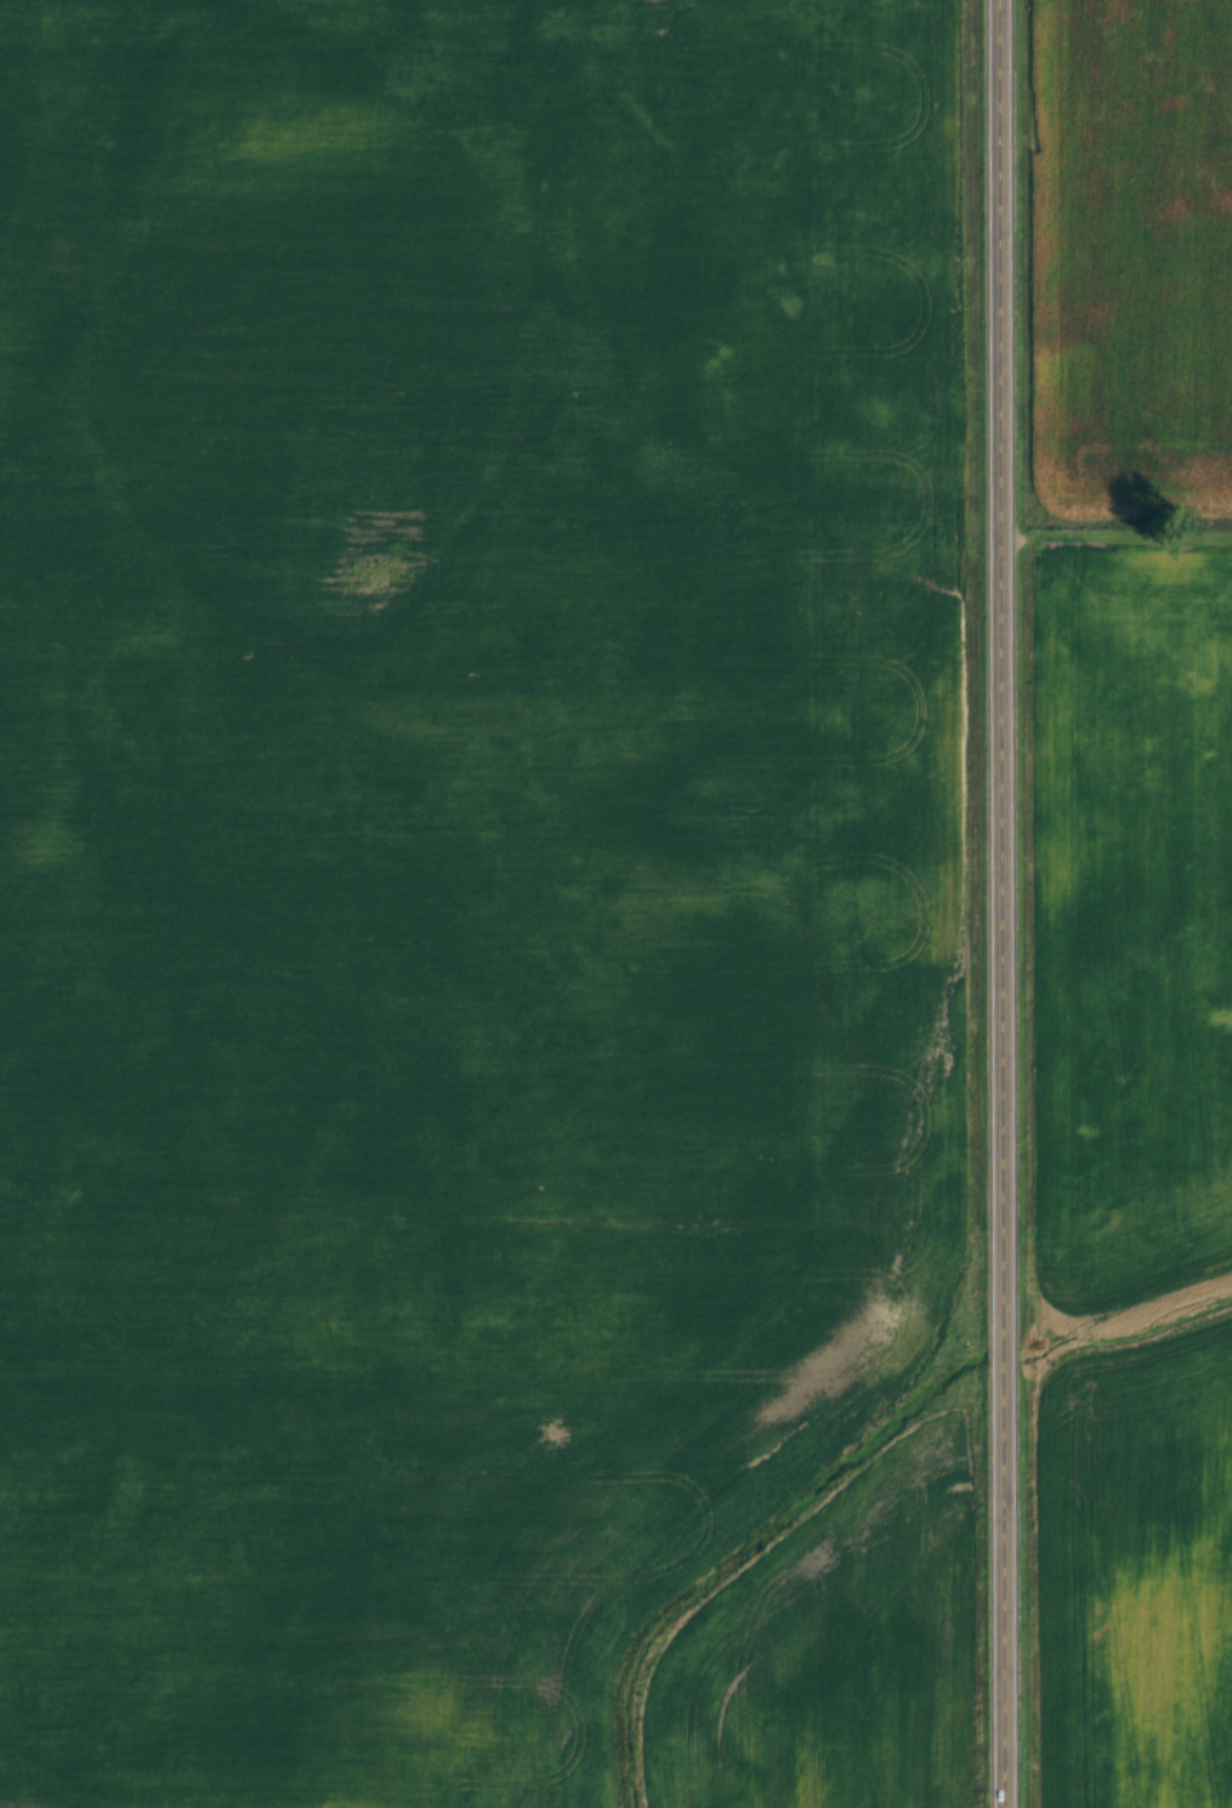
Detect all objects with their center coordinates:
road: (1007, 903)

